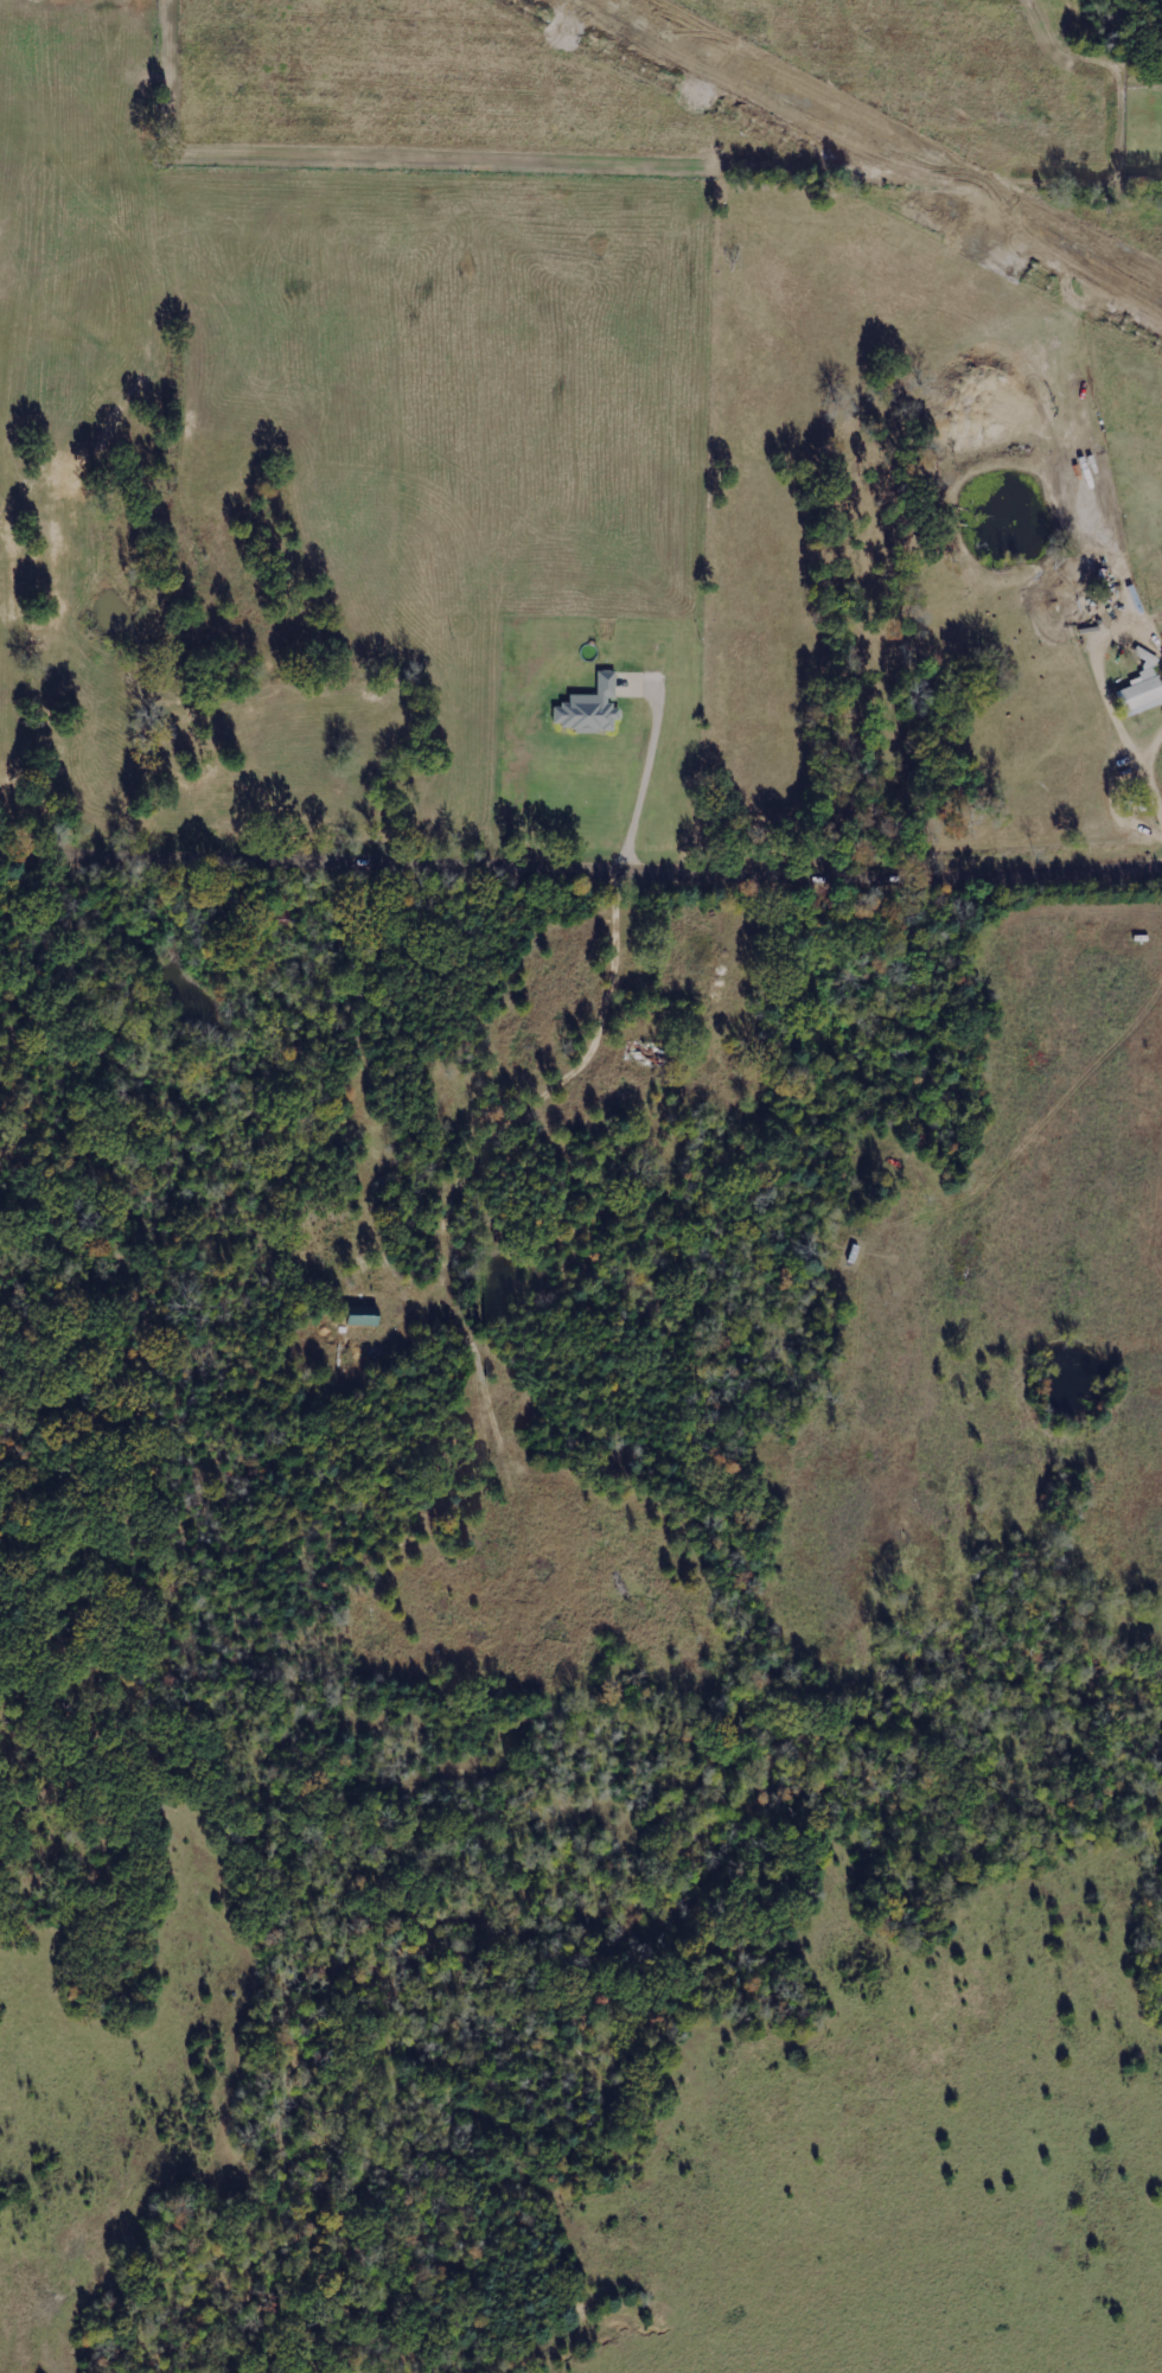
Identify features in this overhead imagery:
building: (1098, 606)
building: (1143, 691)
building: (594, 707)
road: (581, 860)

